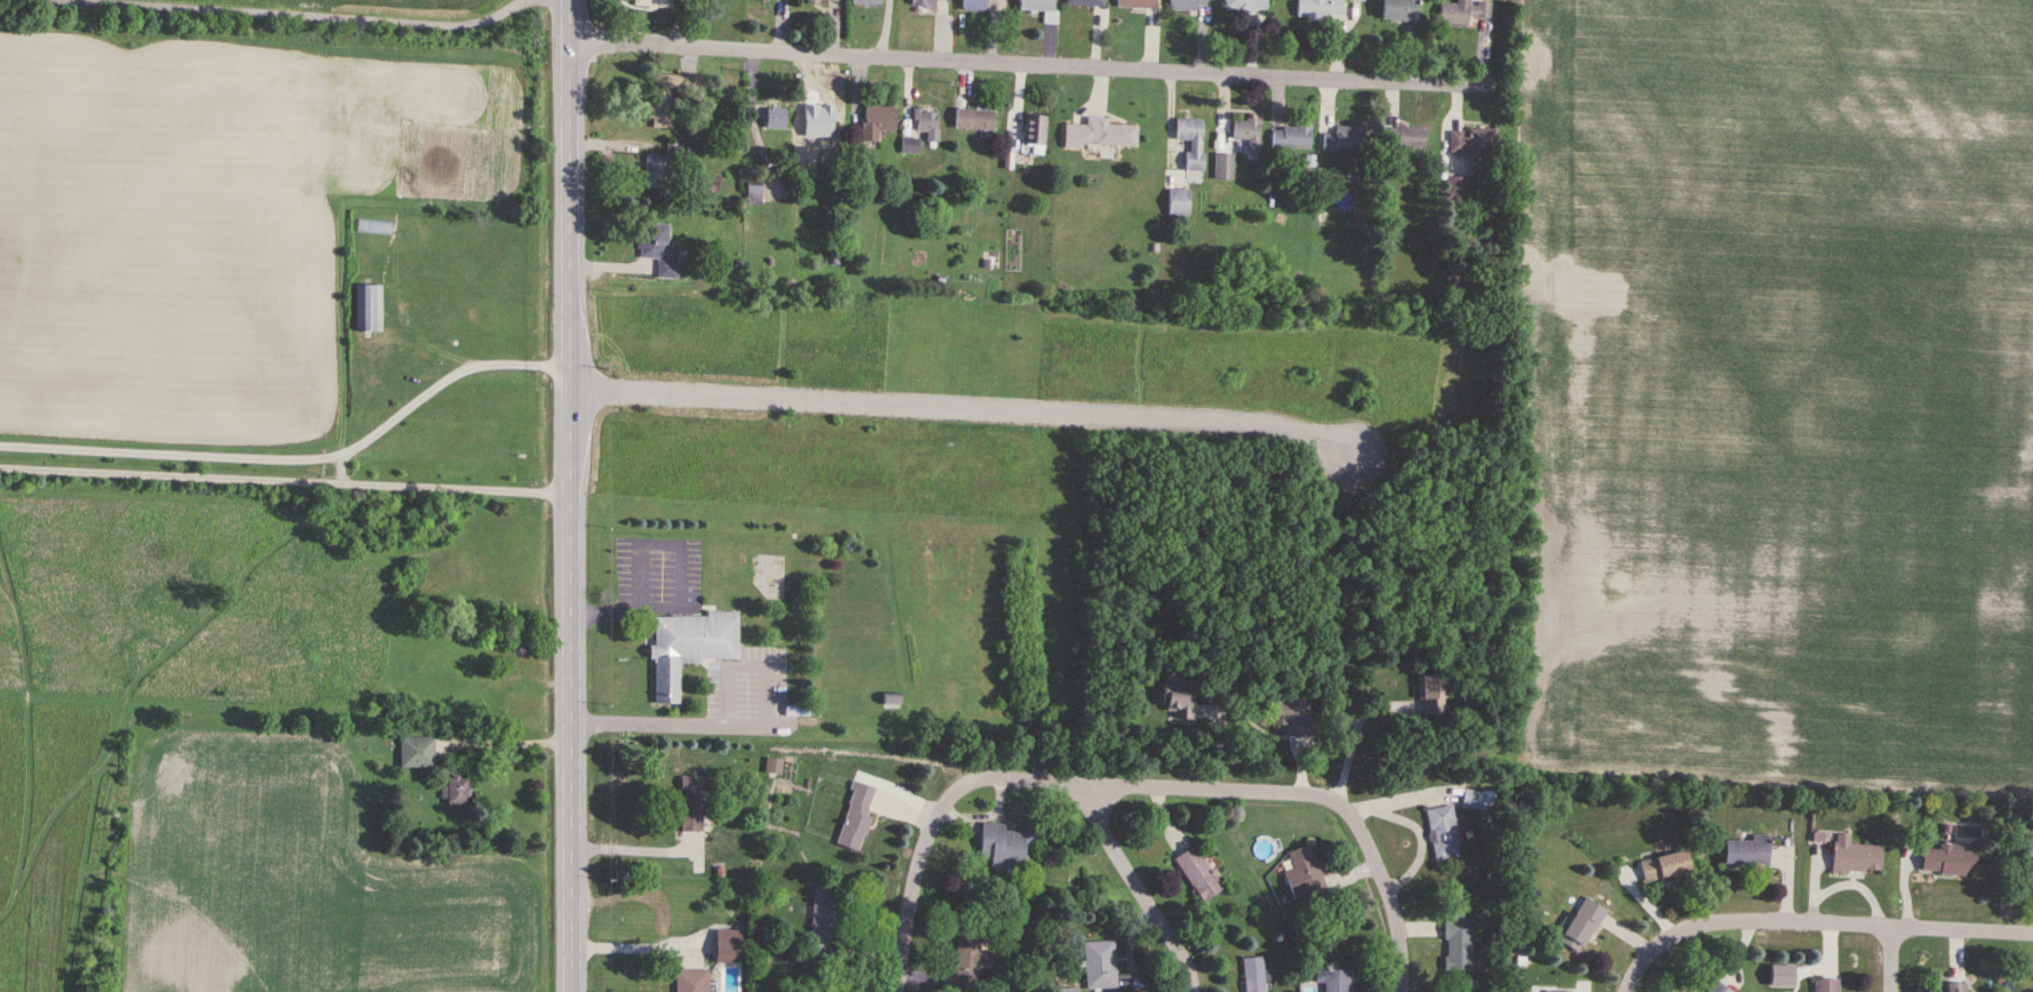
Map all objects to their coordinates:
building: (773, 0)
building: (1357, 0)
building: (822, 1)
building: (866, 2)
building: (927, 3)
building: (1085, 3)
building: (653, 4)
building: (1140, 4)
building: (974, 5)
building: (1187, 6)
building: (1243, 6)
building: (1319, 8)
building: (1040, 9)
building: (1399, 10)
building: (1463, 12)
road: (336, 16)
road: (1035, 61)
building: (667, 89)
building: (774, 118)
building: (877, 119)
building: (974, 119)
building: (819, 124)
building: (922, 130)
building: (1247, 131)
building: (1033, 134)
building: (1100, 134)
building: (1291, 136)
building: (1406, 137)
building: (1343, 140)
building: (1191, 141)
building: (1471, 141)
building: (1223, 166)
building: (657, 171)
building: (1456, 192)
building: (754, 194)
building: (1178, 202)
building: (658, 249)
building: (367, 308)
park: (251, 340)
road: (951, 408)
road: (288, 439)
road: (422, 468)
road: (550, 496)
road: (674, 576)
building: (689, 648)
building: (1432, 693)
building: (891, 701)
building: (1187, 703)
building: (1293, 714)
road: (735, 722)
road: (1355, 733)
road: (502, 743)
building: (417, 752)
building: (772, 766)
road: (1134, 784)
building: (455, 790)
building: (1472, 799)
building: (692, 805)
building: (855, 817)
building: (1443, 832)
building: (1004, 847)
road: (630, 848)
building: (1746, 852)
building: (1854, 857)
building: (1948, 860)
building: (2028, 866)
building: (1664, 867)
building: (1303, 873)
building: (1198, 874)
road: (1387, 885)
road: (1141, 888)
road: (912, 894)
building: (823, 914)
road: (1847, 922)
building: (1582, 926)
road: (633, 942)
building: (1458, 945)
building: (727, 947)
road: (1893, 958)
building: (969, 961)
road: (1643, 963)
building: (1100, 965)
building: (1254, 975)
building: (690, 981)
building: (1333, 981)
building: (1825, 985)
building: (1955, 987)
building: (1717, 988)
building: (1557, 991)

